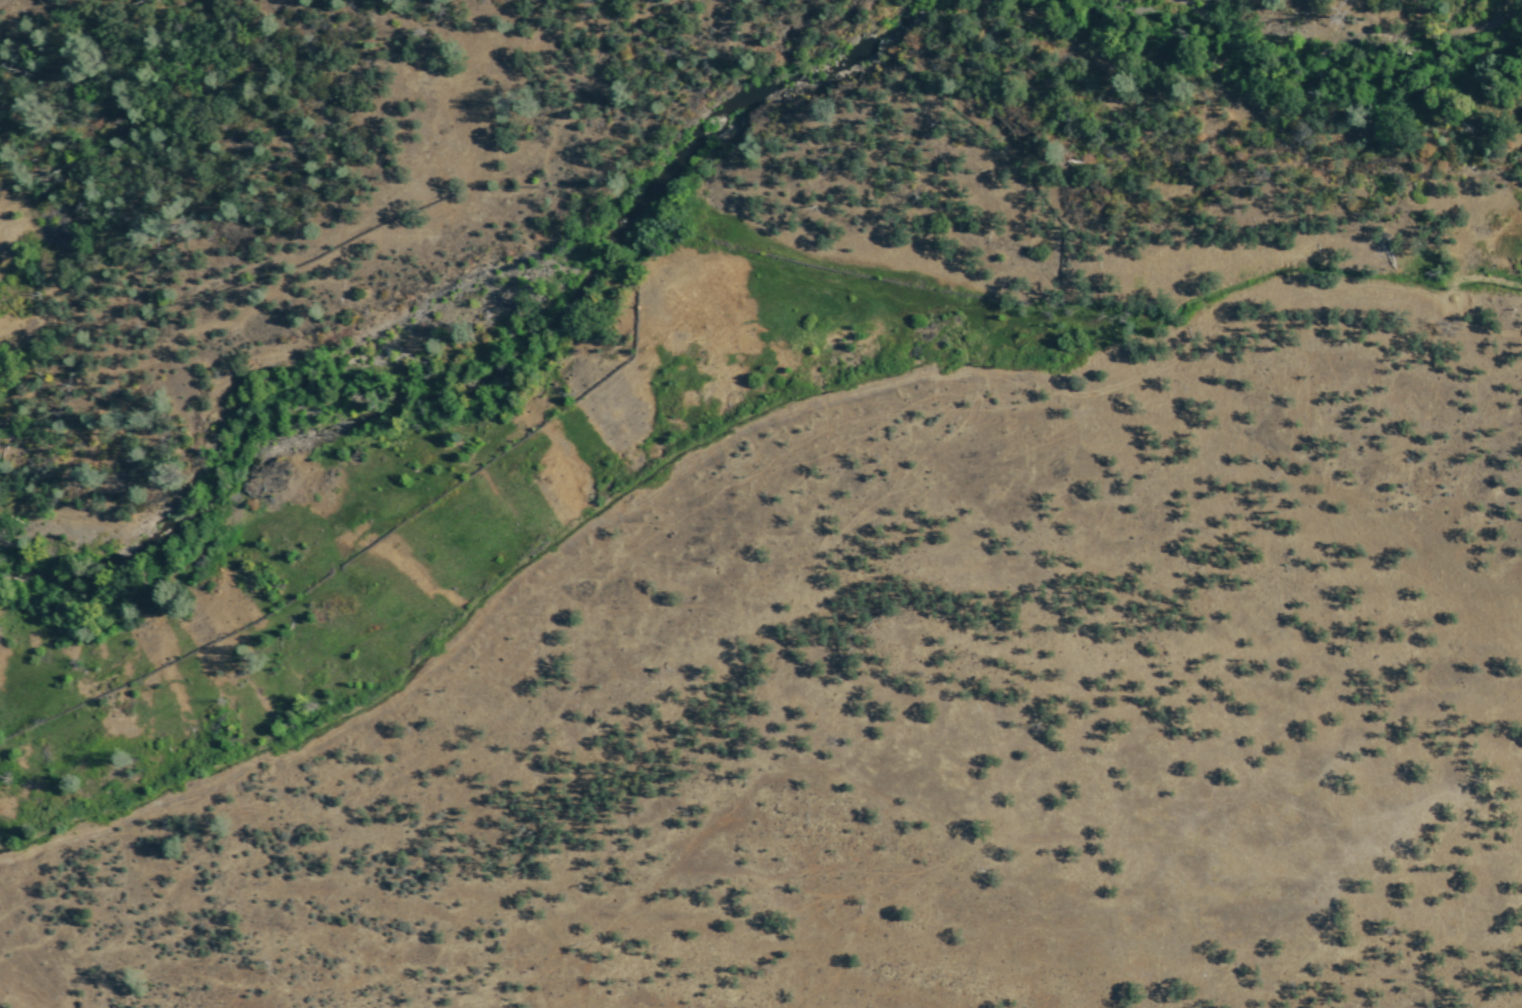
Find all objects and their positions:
river: (1285, 76)
river: (490, 367)

